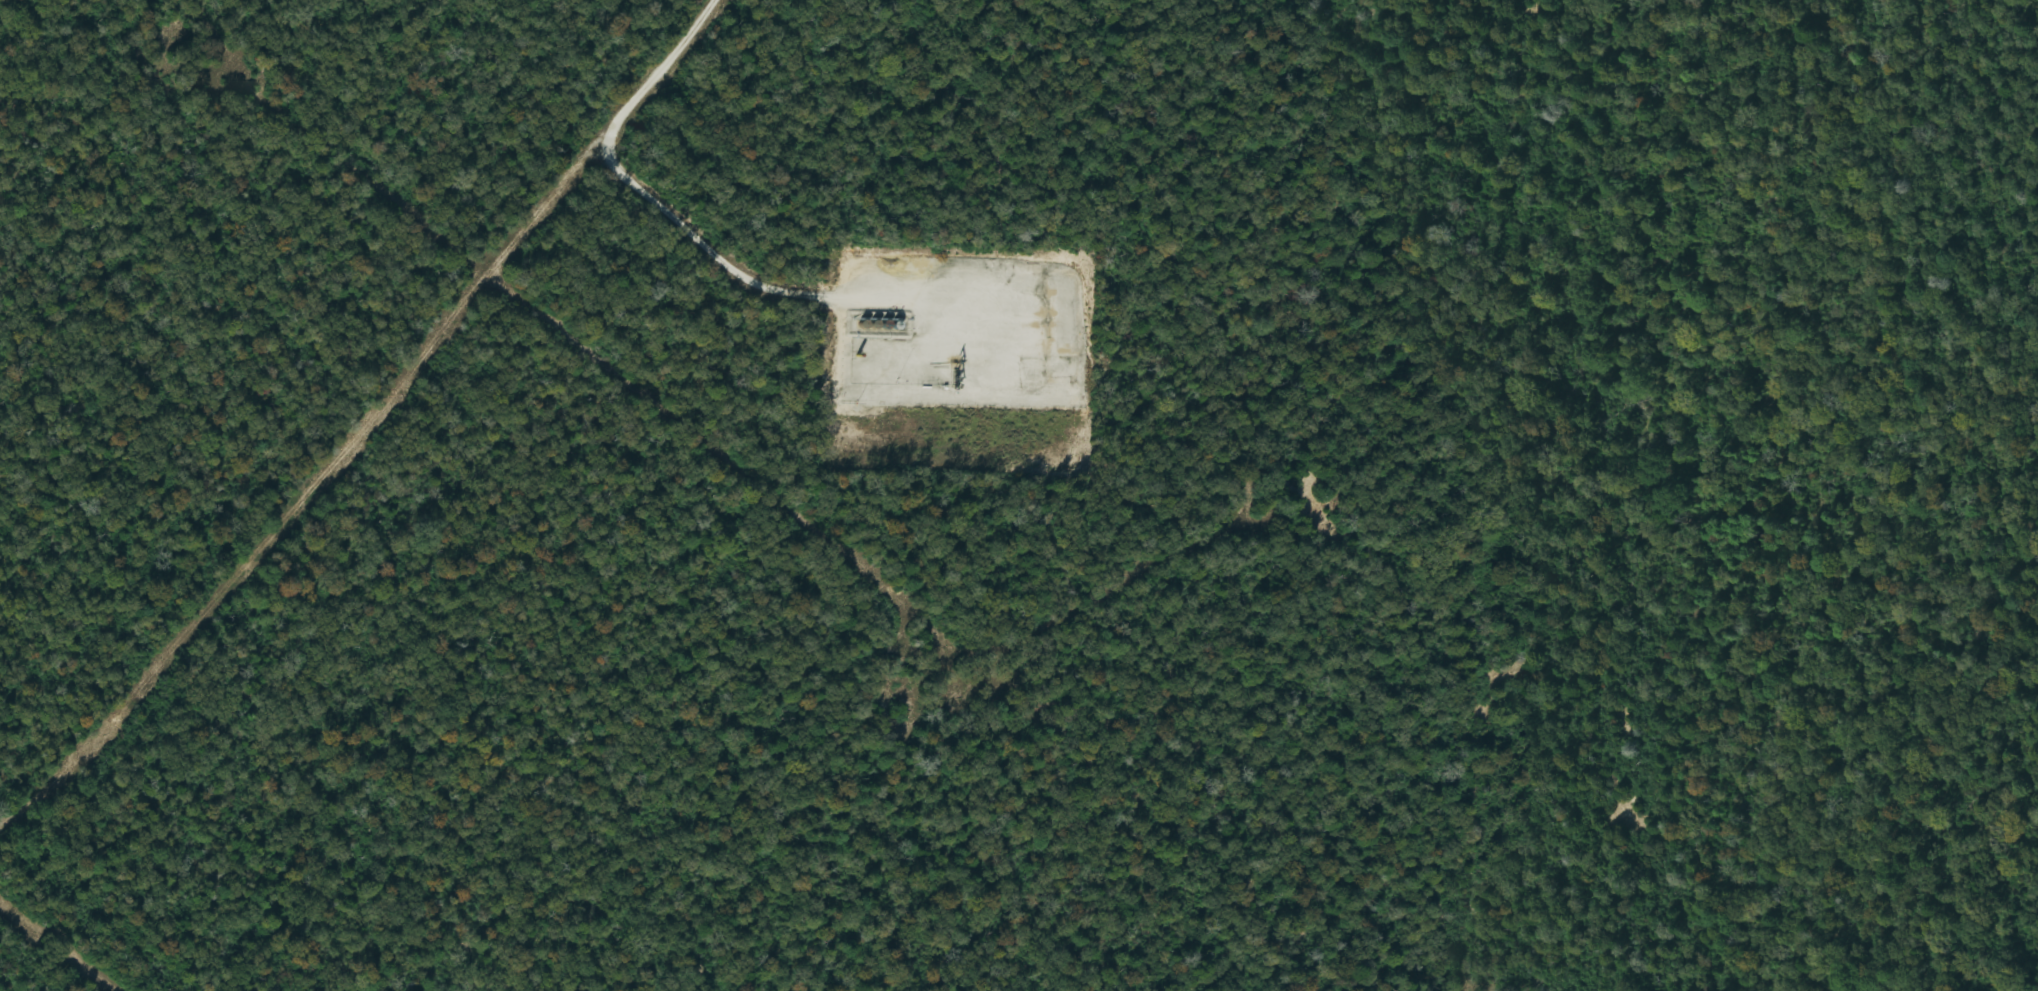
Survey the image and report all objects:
road: (356, 428)

